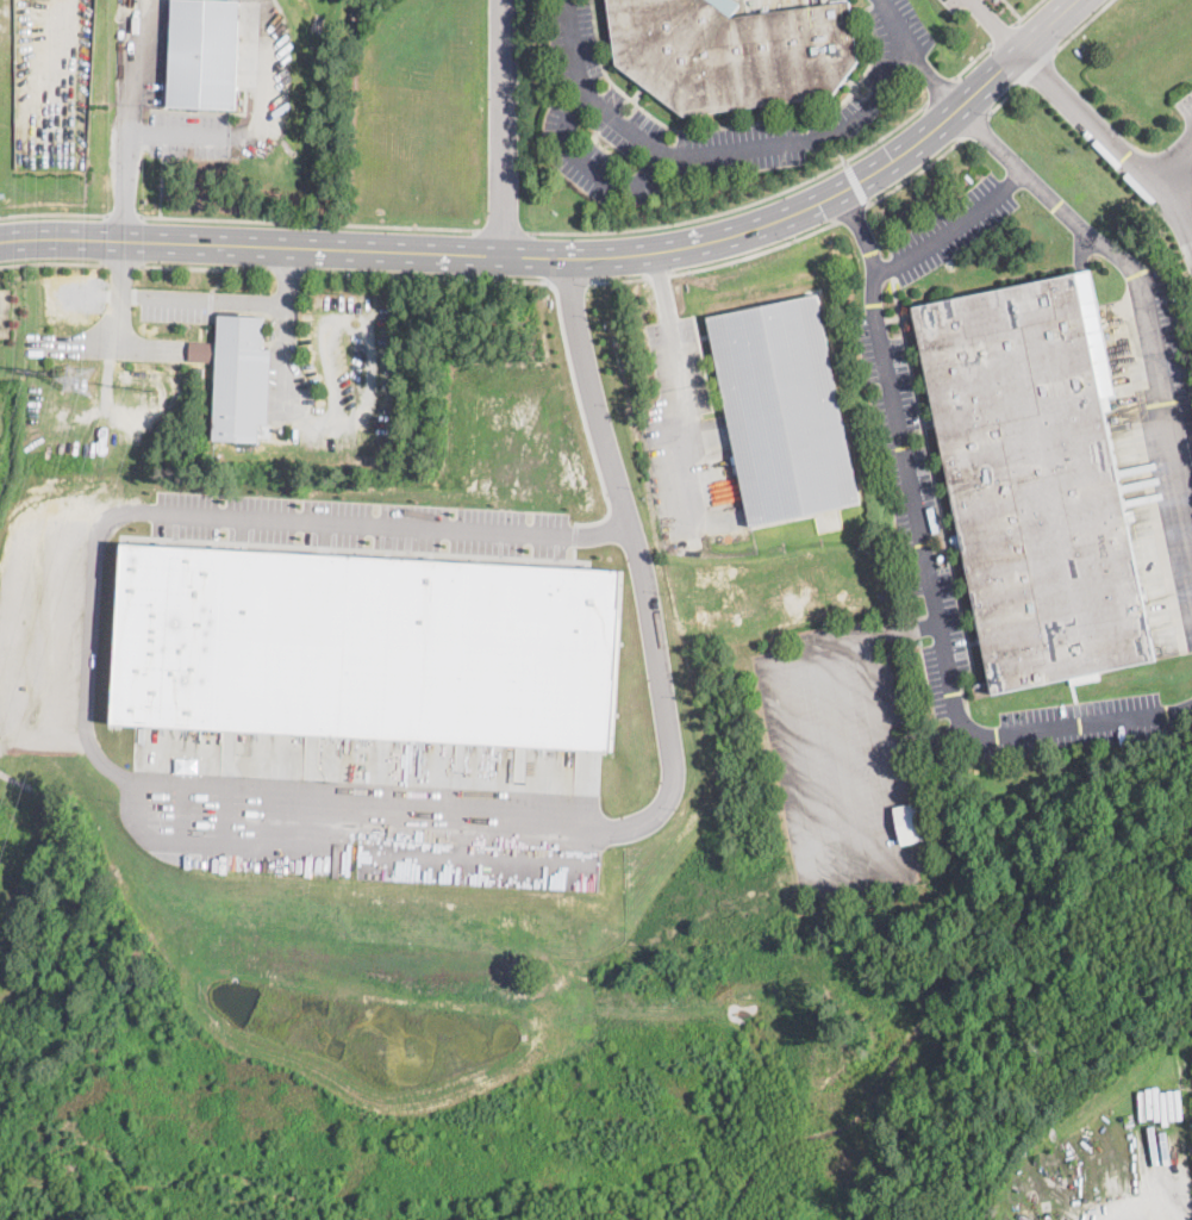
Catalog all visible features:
road: (1025, 11)
road: (894, 21)
road: (1081, 25)
road: (996, 27)
road: (1001, 32)
building: (732, 51)
building: (204, 52)
road: (911, 52)
road: (972, 60)
road: (138, 66)
road: (1037, 67)
road: (938, 83)
road: (938, 88)
road: (1004, 98)
road: (255, 123)
road: (975, 124)
road: (505, 126)
road: (992, 139)
road: (1113, 144)
road: (712, 149)
road: (838, 151)
road: (1179, 158)
road: (589, 167)
road: (915, 172)
road: (855, 181)
road: (124, 185)
road: (741, 205)
road: (851, 211)
road: (52, 212)
road: (121, 214)
road: (308, 222)
road: (951, 226)
road: (504, 229)
road: (861, 230)
road: (1191, 248)
road: (756, 251)
road: (579, 257)
road: (50, 262)
road: (121, 263)
road: (204, 267)
road: (288, 269)
road: (429, 275)
road: (659, 275)
road: (619, 279)
road: (570, 280)
road: (218, 300)
road: (1149, 329)
building: (201, 350)
power tower: (33, 369)
road: (682, 376)
building: (241, 378)
power tower: (75, 381)
power tower: (135, 386)
road: (332, 393)
building: (784, 410)
road: (581, 415)
building: (1036, 480)
parking lot: (357, 523)
road: (937, 614)
building: (367, 643)
road: (279, 785)
road: (809, 816)
building: (909, 822)
road: (230, 845)
park: (1093, 863)
park: (1071, 967)
road: (1134, 1213)

